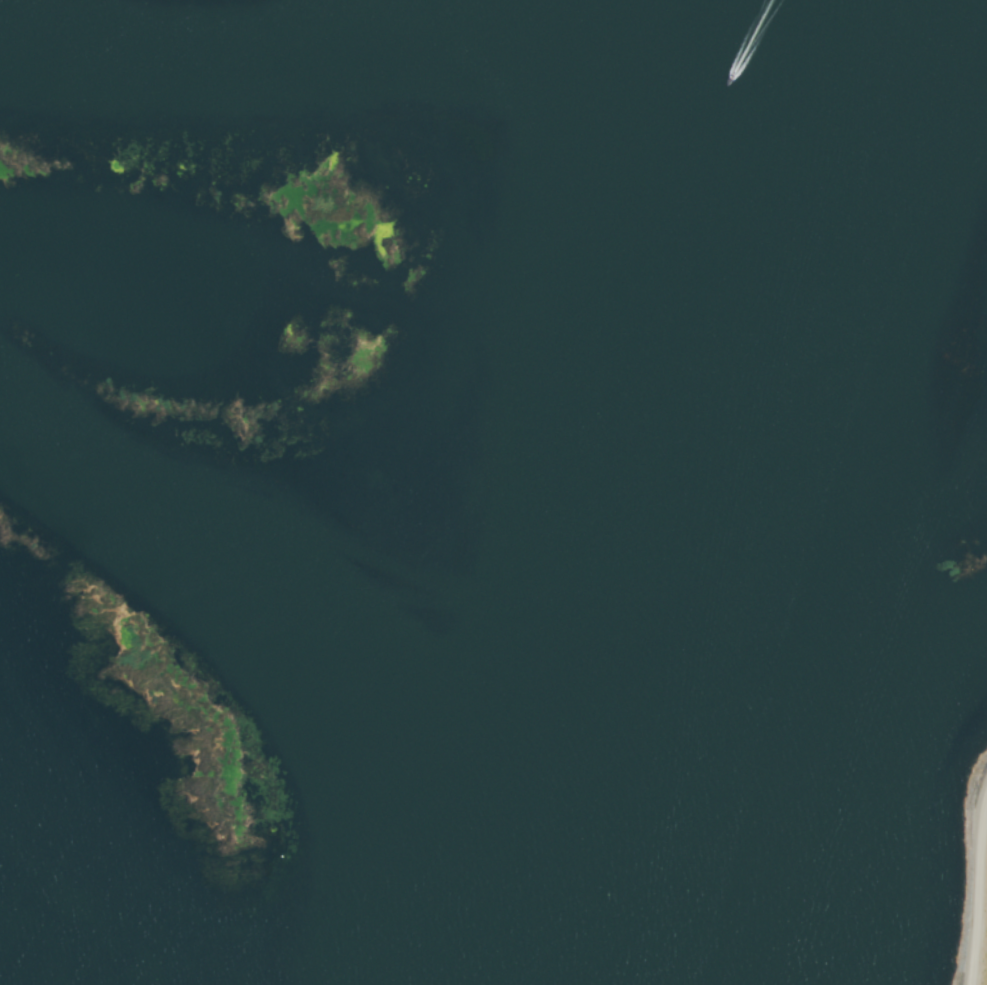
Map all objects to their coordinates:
river: (641, 452)
road: (977, 890)

